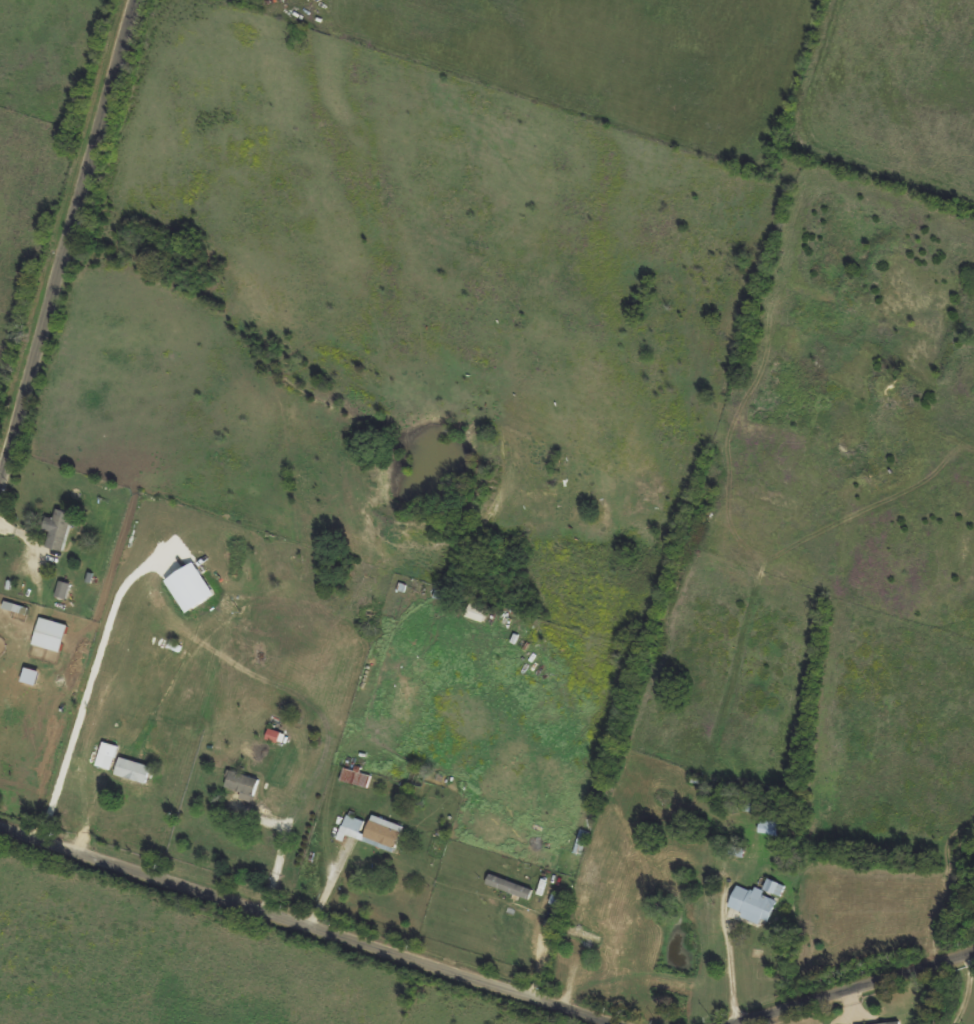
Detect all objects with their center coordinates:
road: (67, 239)
building: (56, 528)
building: (185, 586)
building: (59, 589)
building: (46, 634)
building: (26, 675)
building: (269, 735)
building: (103, 755)
building: (129, 770)
building: (239, 784)
building: (765, 826)
building: (347, 827)
building: (380, 830)
building: (506, 886)
building: (770, 886)
building: (749, 903)
road: (302, 924)
road: (858, 988)
road: (964, 991)
building: (887, 1023)

